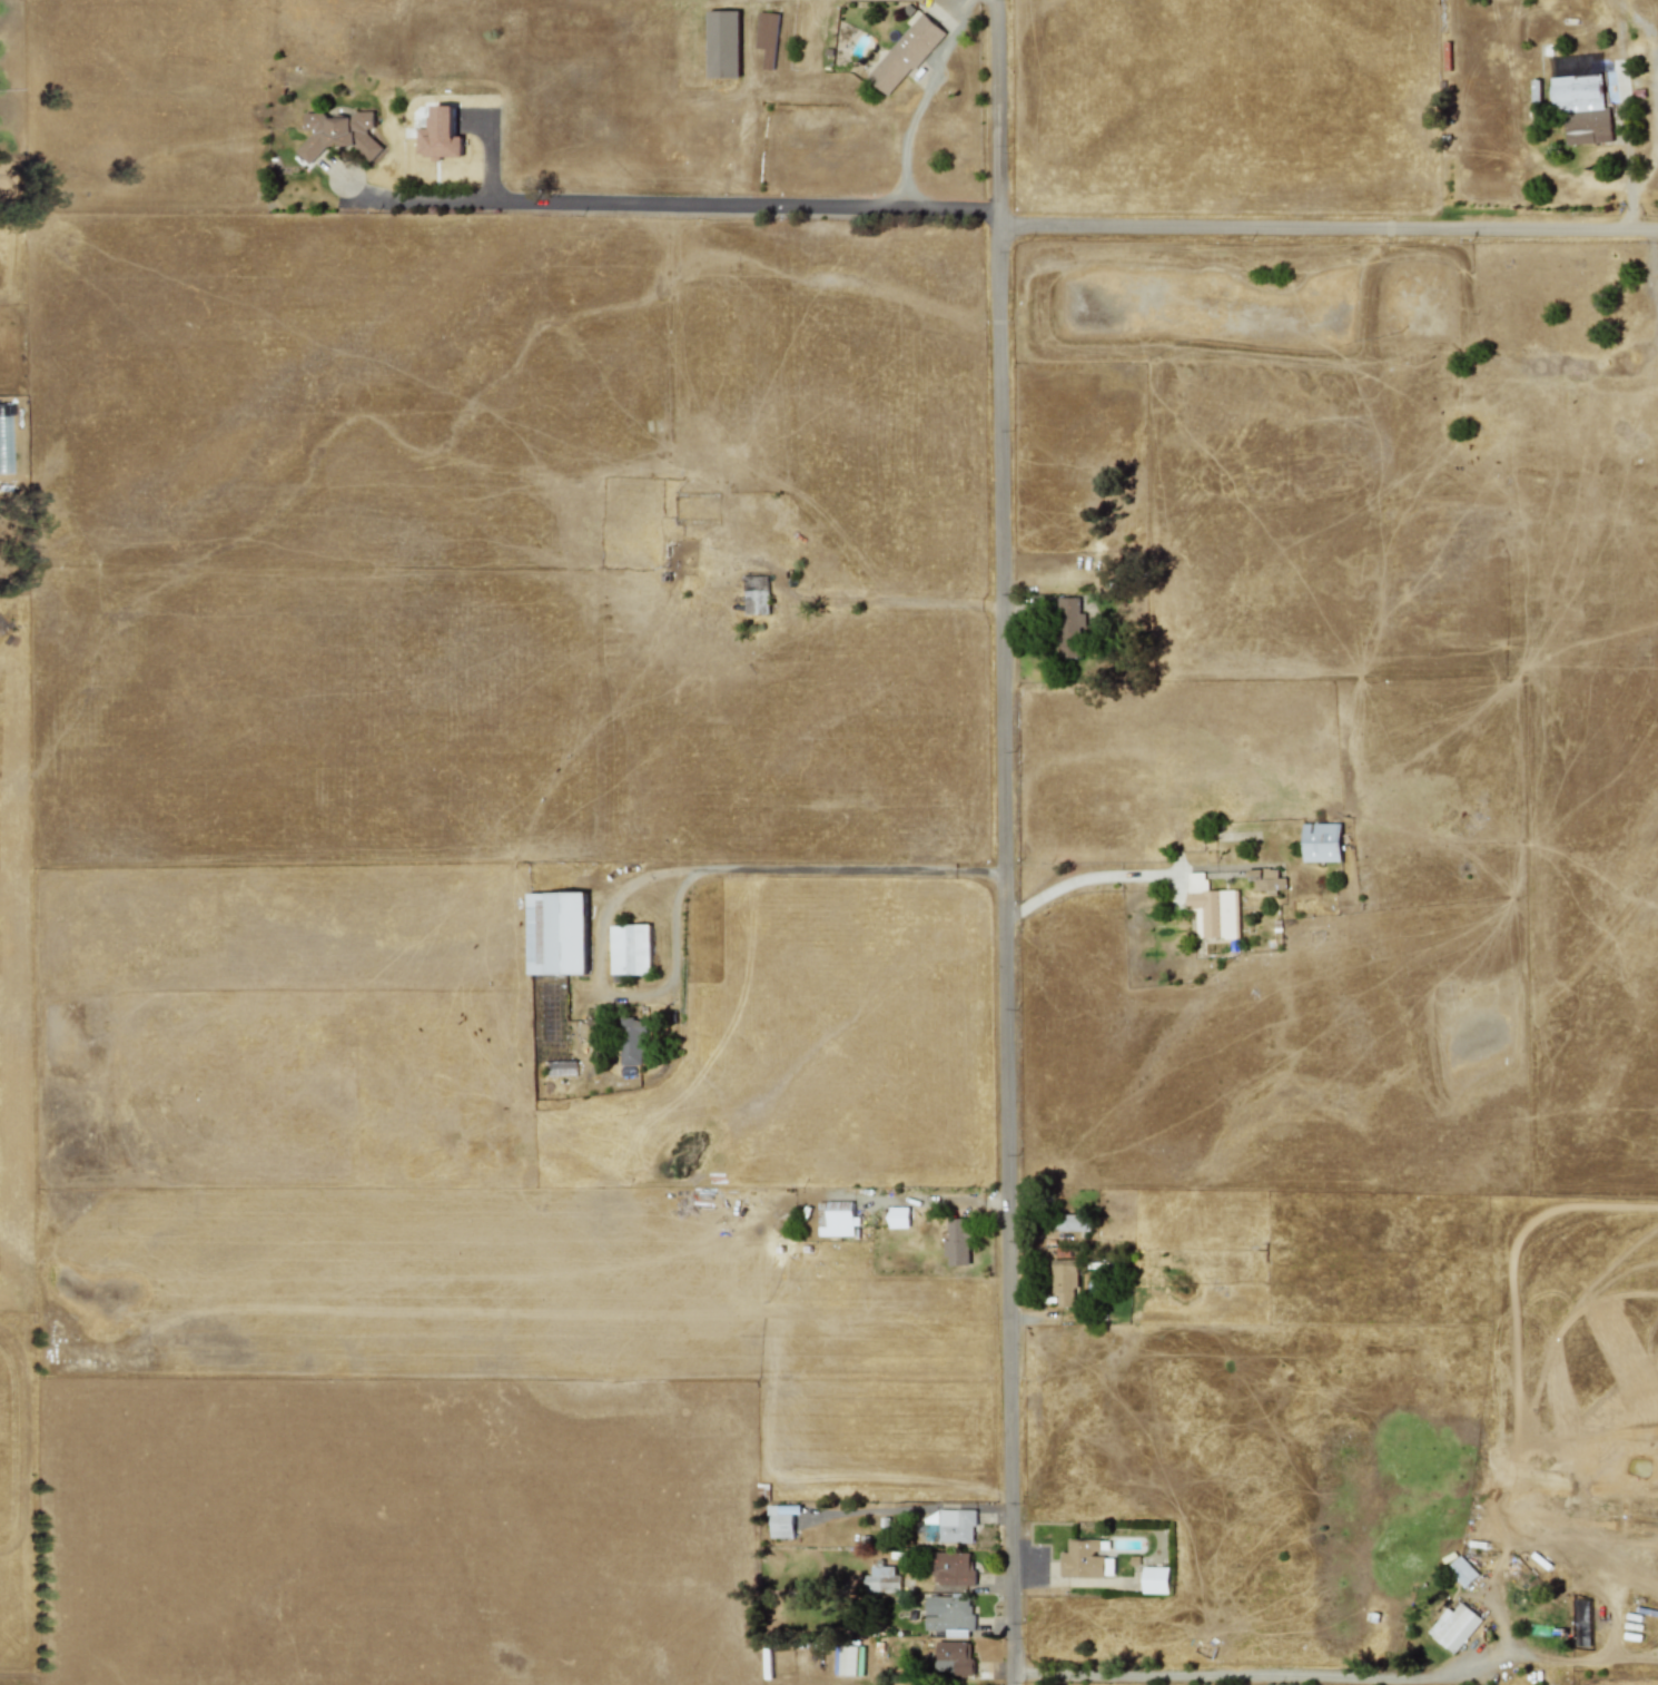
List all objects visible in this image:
road: (960, 0)
building: (767, 38)
building: (723, 45)
building: (905, 55)
road: (920, 100)
building: (1581, 108)
road: (996, 114)
building: (339, 135)
building: (438, 135)
road: (1649, 165)
road: (416, 199)
road: (742, 209)
road: (1328, 228)
building: (756, 595)
building: (1068, 628)
building: (1321, 842)
road: (850, 869)
road: (1087, 877)
building: (1264, 880)
building: (556, 933)
building: (630, 949)
road: (1005, 955)
building: (586, 1028)
building: (631, 1042)
building: (894, 1218)
building: (835, 1219)
building: (1072, 1222)
building: (957, 1242)
building: (1064, 1281)
building: (782, 1520)
building: (948, 1527)
building: (1085, 1559)
building: (950, 1568)
building: (1461, 1571)
building: (1155, 1579)
building: (880, 1580)
building: (948, 1614)
building: (1453, 1627)
building: (953, 1657)
road: (1266, 1676)

